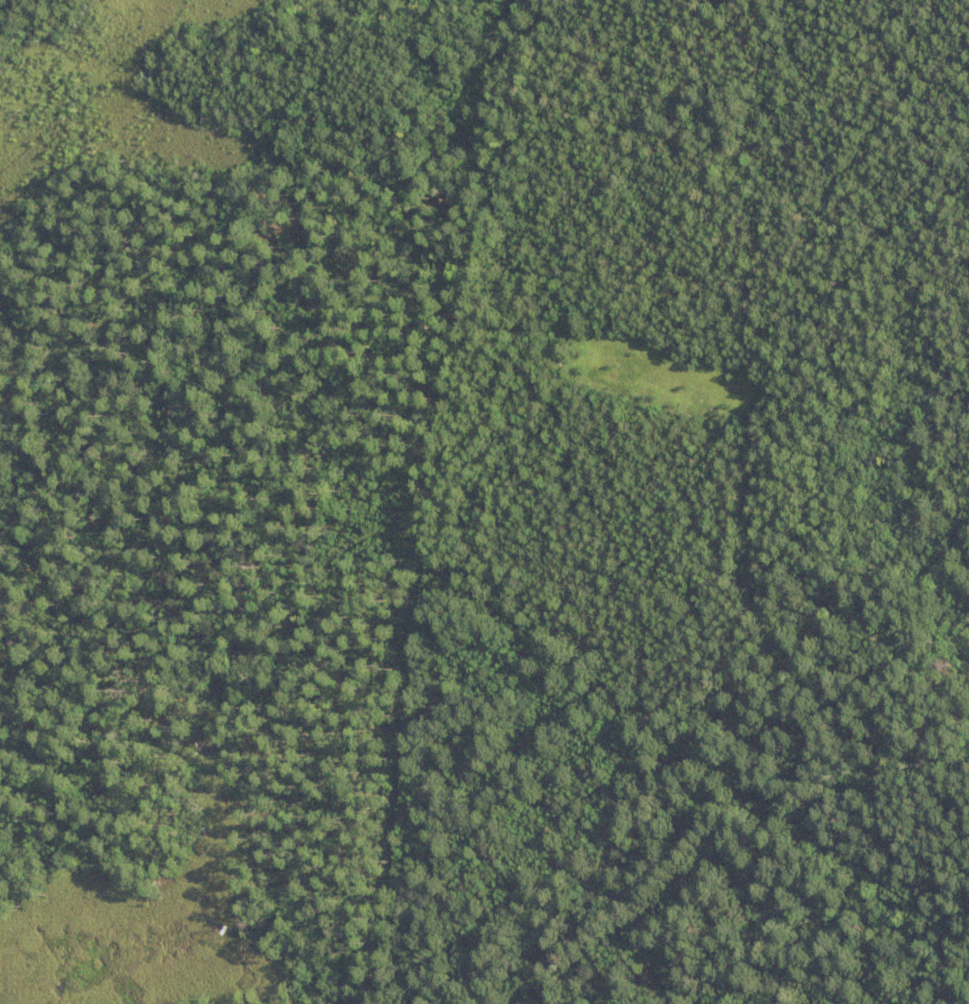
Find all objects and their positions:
road: (419, 497)
road: (690, 789)

